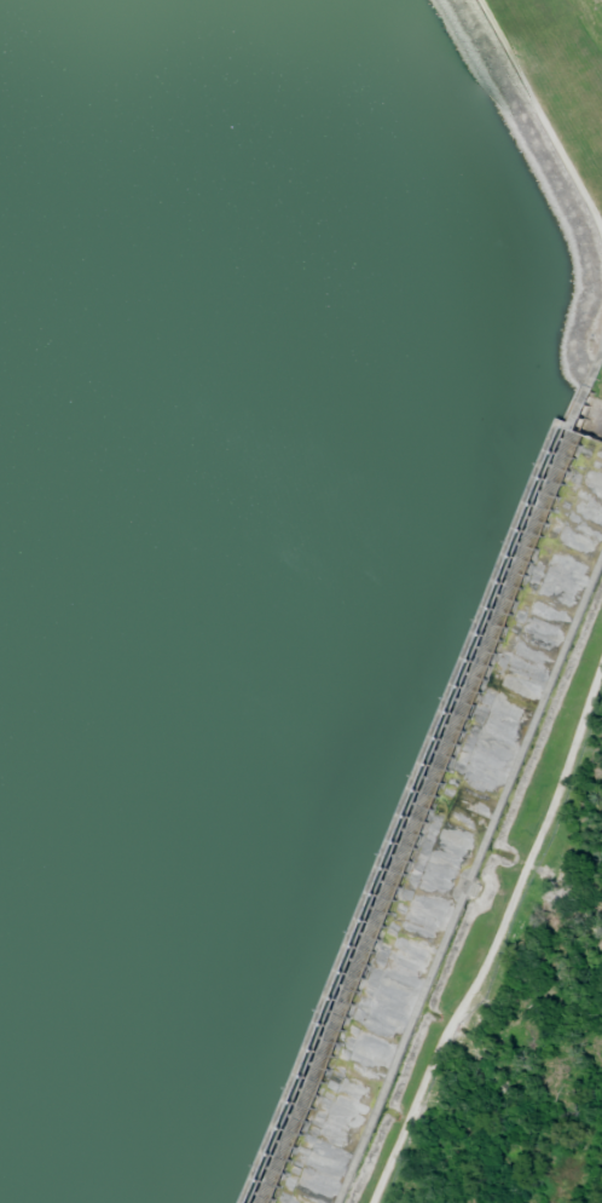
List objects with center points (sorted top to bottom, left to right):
building: (297, 568)
building: (314, 638)
dam: (445, 830)
road: (496, 934)

